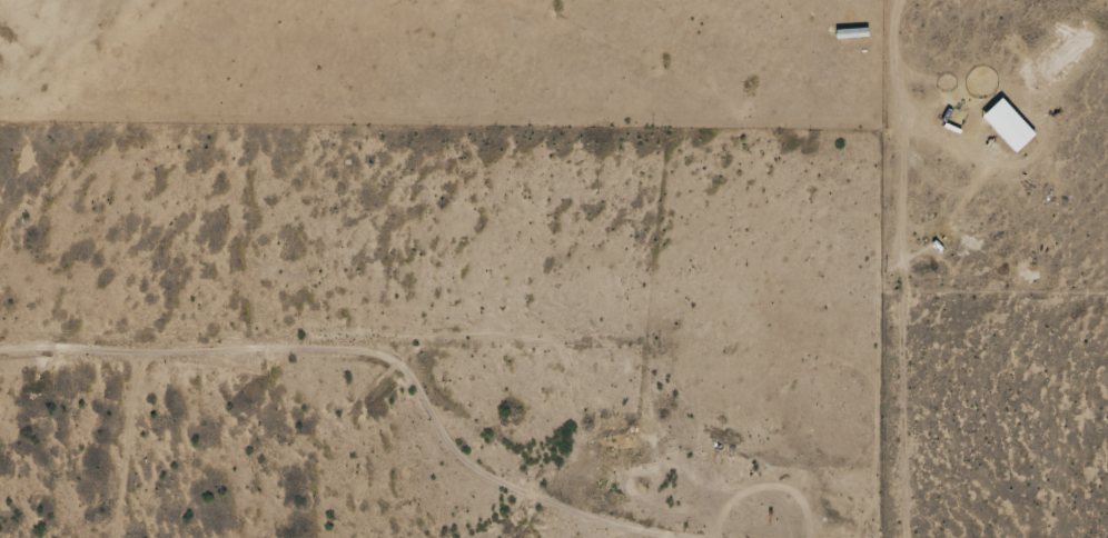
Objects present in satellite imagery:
building: (851, 33)
road: (366, 358)
building: (623, 442)
building: (825, 537)

